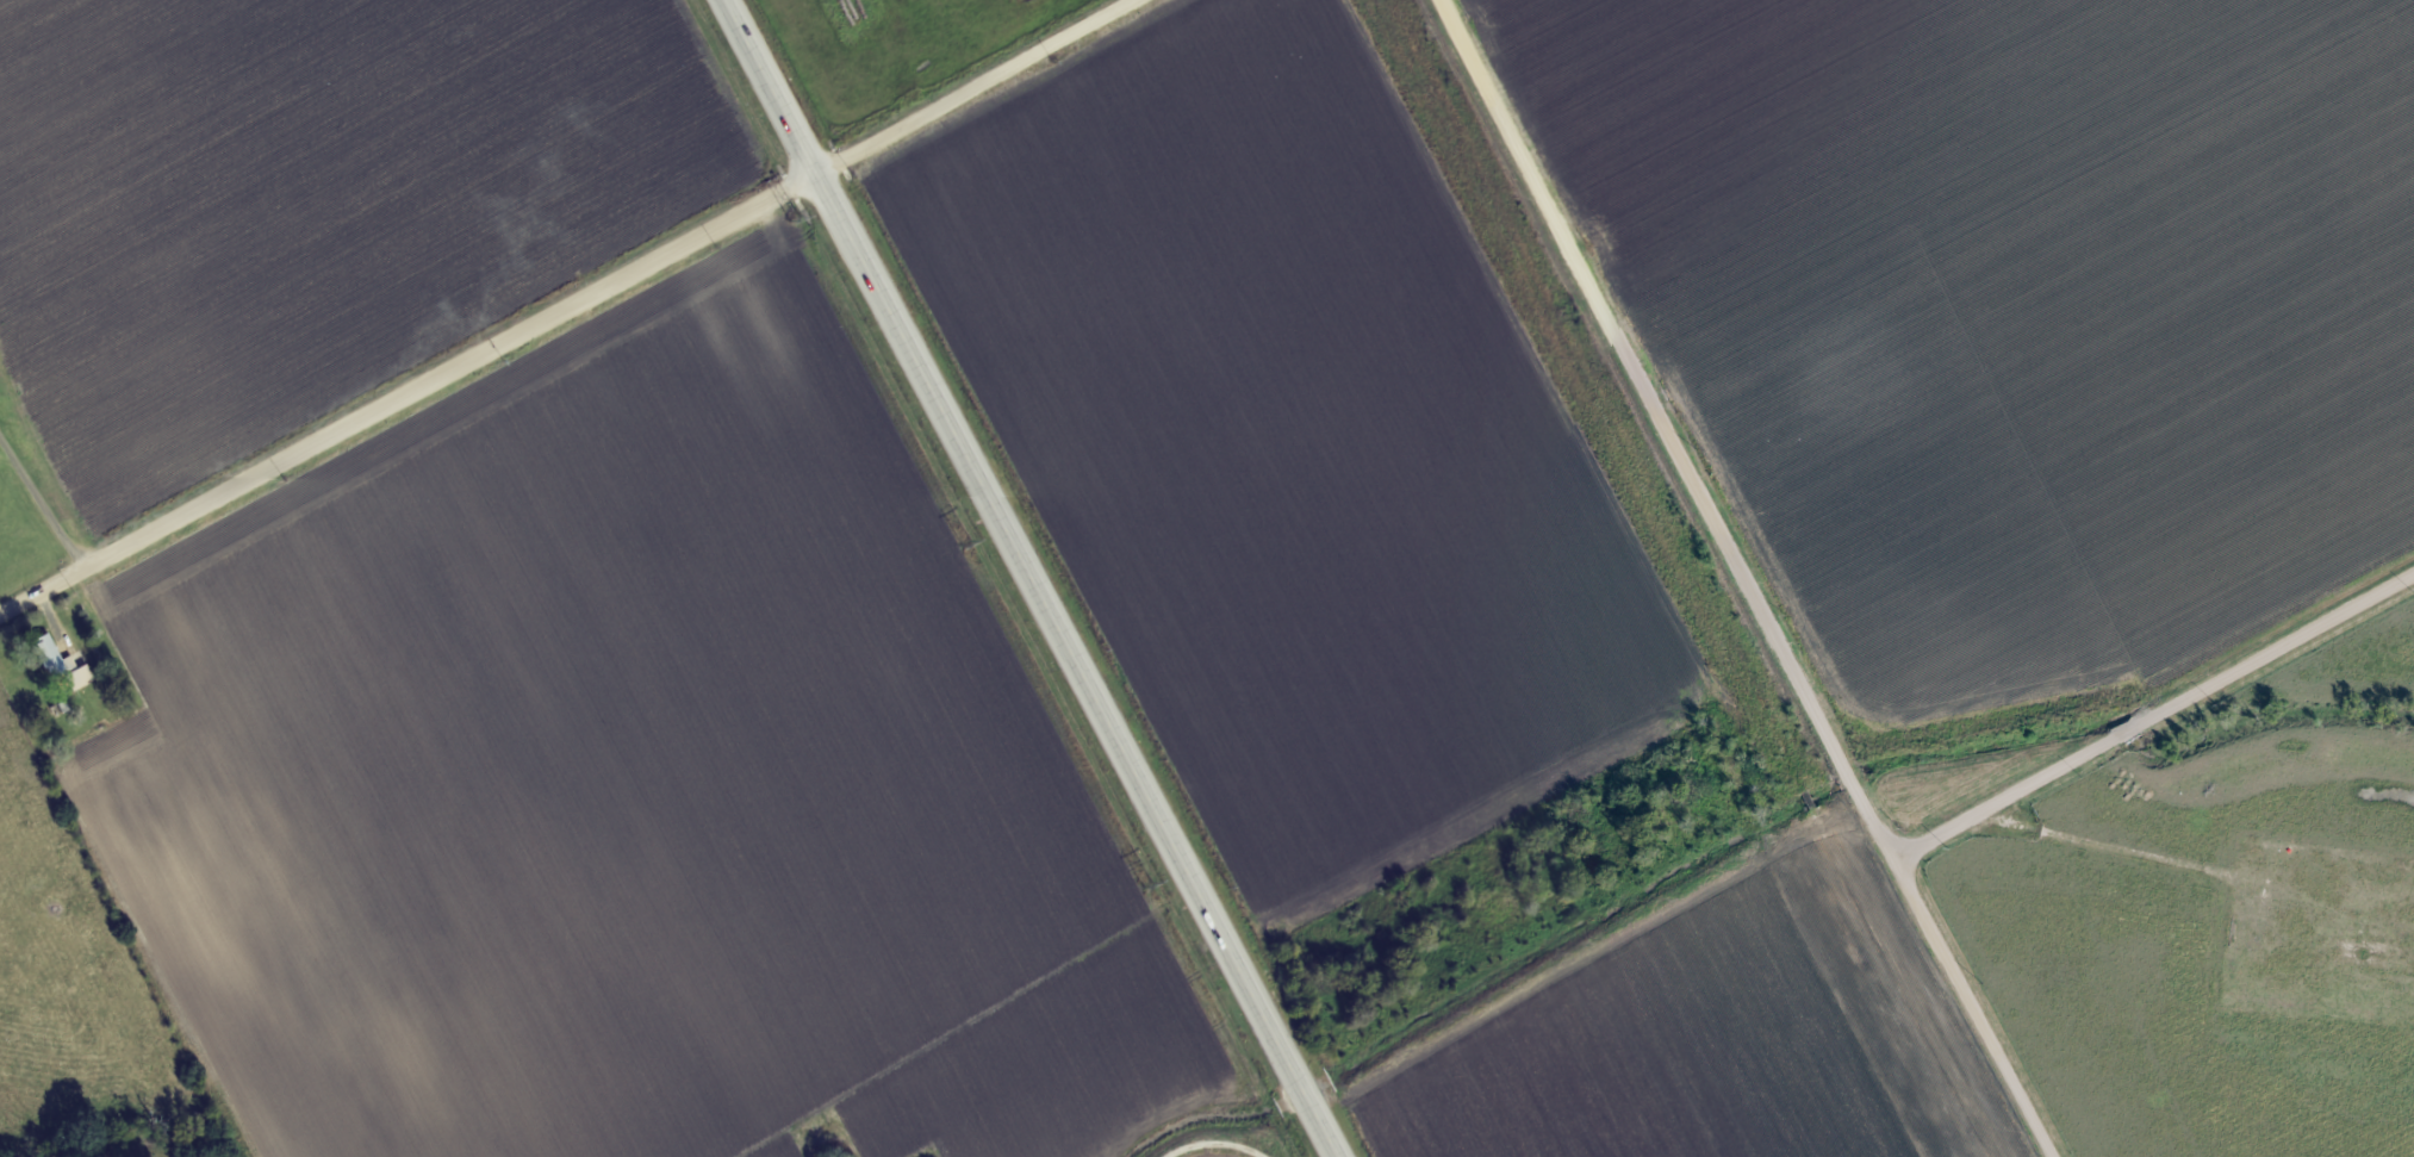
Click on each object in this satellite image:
power tower: (791, 217)
road: (572, 313)
road: (46, 502)
power tower: (965, 543)
road: (1024, 578)
road: (1749, 578)
railway: (1650, 579)
road: (57, 628)
building: (51, 655)
road: (2158, 722)
power tower: (1146, 887)

